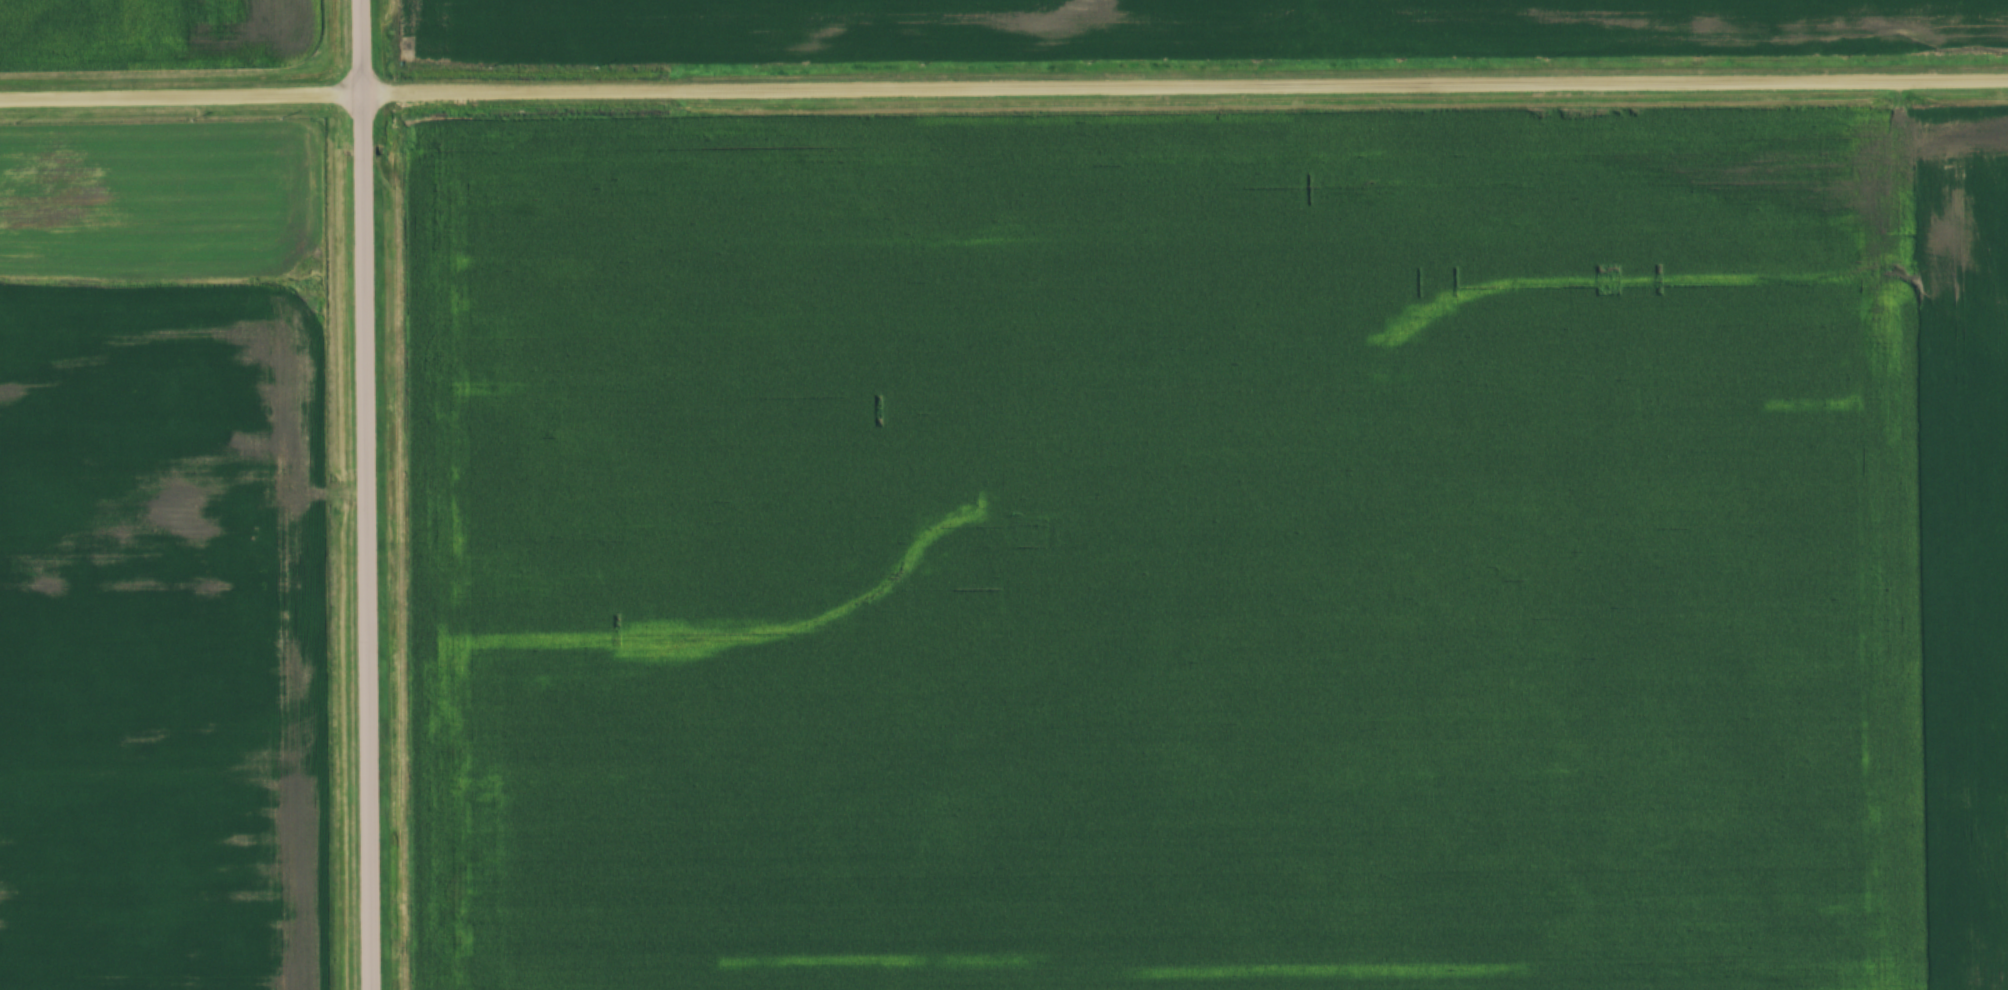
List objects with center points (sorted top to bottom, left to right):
road: (1003, 88)
road: (360, 494)

